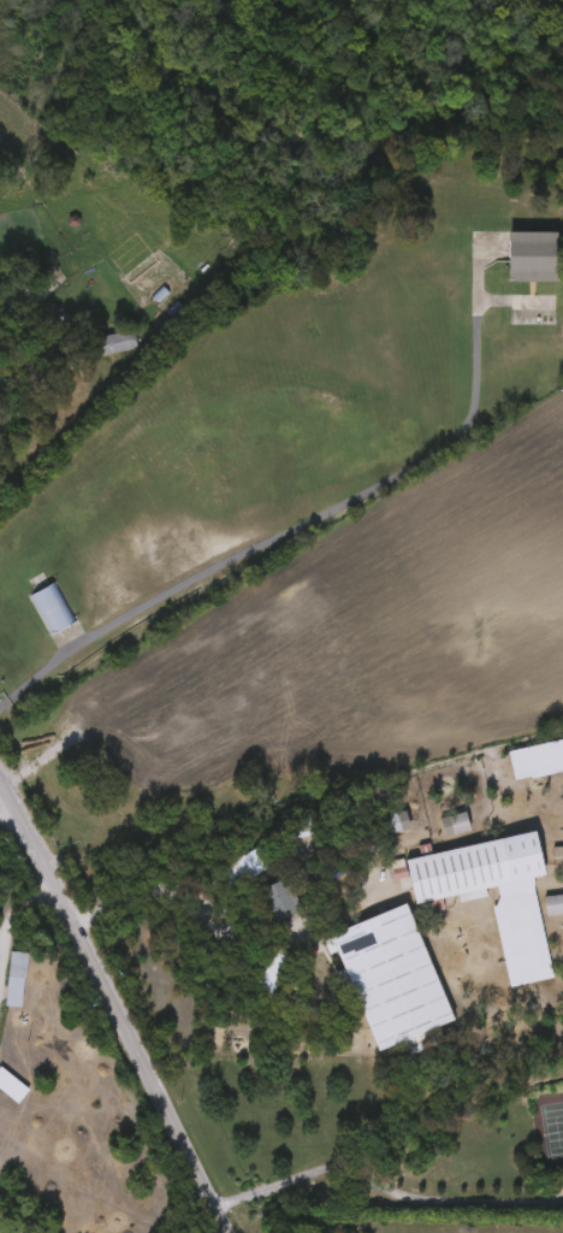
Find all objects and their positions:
building: (531, 258)
road: (41, 307)
building: (115, 342)
road: (310, 515)
building: (51, 608)
building: (457, 824)
building: (387, 825)
building: (455, 872)
building: (280, 901)
road: (22, 904)
building: (551, 905)
road: (196, 914)
road: (88, 918)
building: (387, 977)
building: (14, 979)
road: (113, 1007)
road: (401, 1192)
road: (232, 1202)

